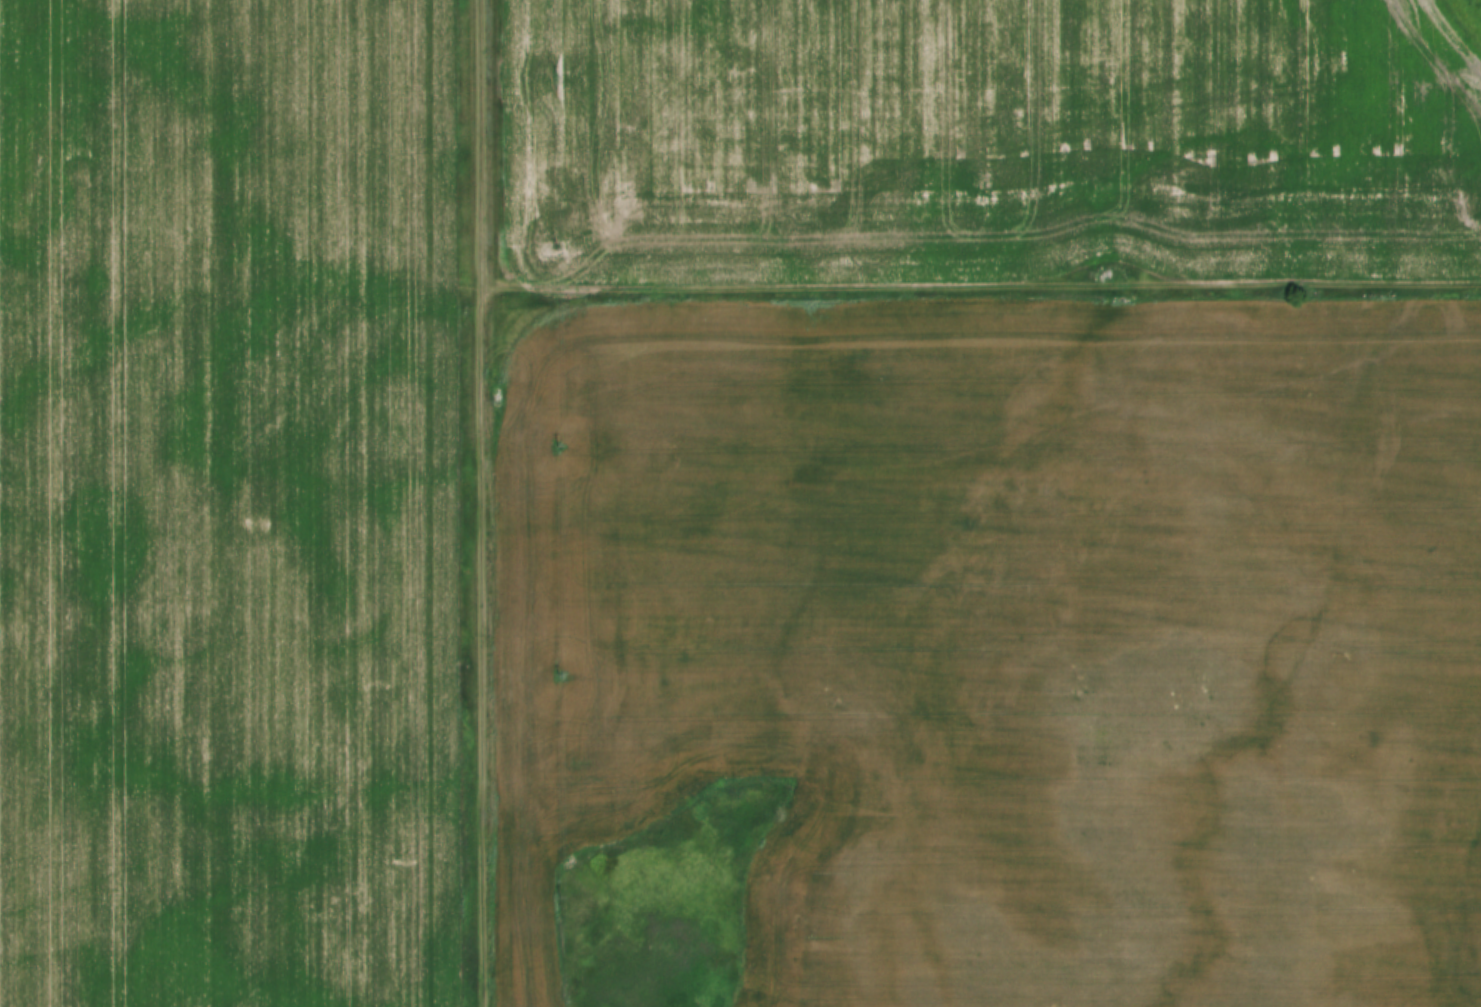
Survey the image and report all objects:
road: (489, 503)

